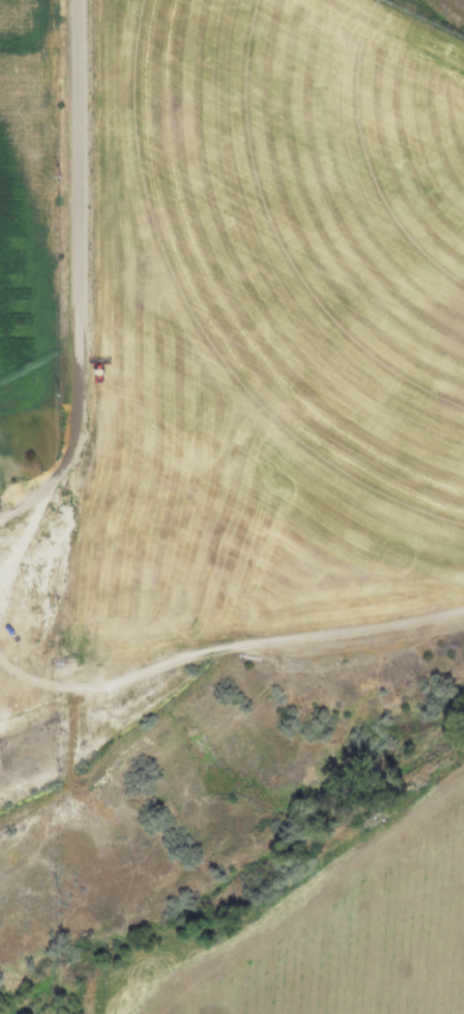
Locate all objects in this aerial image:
road: (86, 280)

